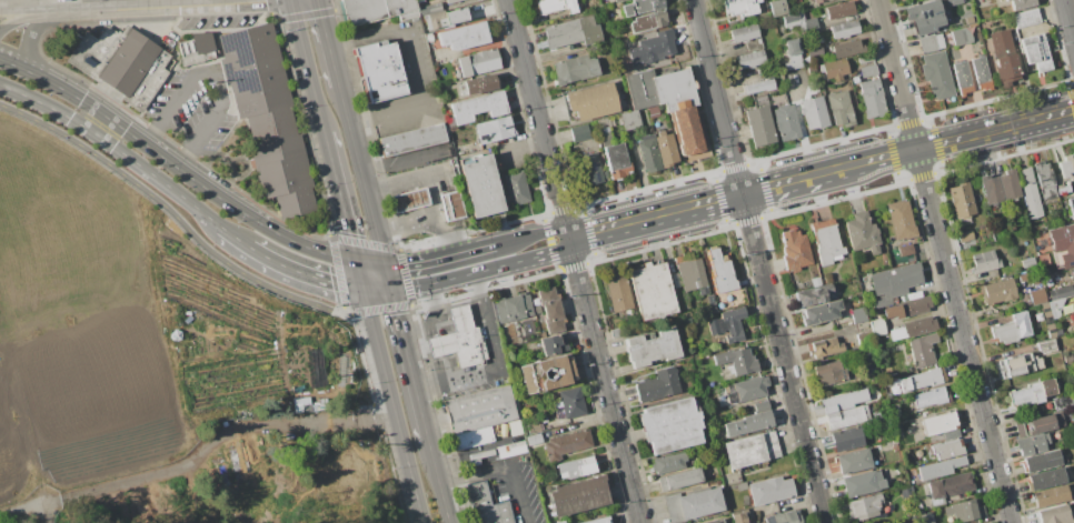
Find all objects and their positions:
building: (772, 0)
building: (1007, 0)
road: (198, 1)
building: (451, 1)
building: (618, 1)
building: (953, 1)
building: (607, 2)
building: (816, 2)
road: (102, 3)
road: (151, 3)
building: (1022, 4)
building: (557, 7)
building: (642, 7)
building: (429, 8)
building: (740, 8)
building: (779, 8)
road: (17, 9)
road: (44, 9)
building: (378, 10)
building: (839, 10)
building: (921, 10)
road: (1070, 13)
building: (456, 16)
building: (1026, 18)
road: (16, 20)
building: (435, 20)
building: (648, 22)
building: (793, 22)
building: (942, 22)
building: (924, 24)
building: (812, 27)
building: (844, 30)
building: (573, 33)
building: (745, 33)
building: (465, 37)
building: (962, 37)
road: (31, 38)
building: (429, 38)
road: (329, 39)
building: (815, 41)
building: (1001, 43)
building: (931, 44)
building: (658, 47)
building: (793, 47)
rooftop solar panel: (238, 48)
building: (199, 49)
building: (847, 49)
building: (815, 50)
building: (1036, 52)
building: (865, 58)
rooftop solar panel: (252, 59)
building: (752, 59)
building: (478, 62)
building: (794, 62)
rooftop solar panel: (88, 63)
building: (123, 64)
road: (20, 66)
road: (309, 67)
building: (576, 69)
building: (836, 69)
road: (415, 70)
parking lot: (419, 70)
building: (867, 70)
building: (1007, 70)
building: (380, 71)
building: (981, 73)
road: (217, 74)
building: (937, 76)
building: (782, 77)
building: (788, 77)
building: (962, 78)
rooftop solar panel: (239, 79)
rooftop solar panel: (251, 81)
building: (478, 84)
building: (758, 87)
road: (72, 93)
building: (872, 99)
building: (593, 101)
road: (48, 104)
building: (479, 108)
building: (676, 108)
parking lot: (197, 109)
building: (841, 109)
building: (654, 112)
building: (814, 113)
building: (268, 118)
road: (538, 119)
building: (630, 120)
road: (99, 121)
building: (451, 122)
building: (786, 122)
building: (760, 127)
road: (127, 128)
building: (495, 130)
road: (996, 130)
building: (605, 131)
building: (662, 132)
building: (580, 133)
building: (412, 140)
road: (523, 149)
building: (461, 150)
building: (666, 151)
building: (648, 153)
road: (894, 157)
building: (617, 162)
building: (590, 169)
rooftop solar panel: (594, 169)
building: (1066, 169)
road: (844, 170)
road: (362, 173)
rooftop solar panel: (595, 177)
road: (156, 178)
building: (1043, 180)
building: (1057, 181)
road: (430, 185)
building: (481, 185)
road: (782, 185)
building: (1008, 185)
building: (516, 188)
building: (991, 190)
building: (1063, 190)
building: (1028, 193)
road: (340, 197)
building: (410, 200)
building: (962, 202)
building: (1071, 203)
road: (700, 205)
building: (453, 207)
road: (247, 211)
building: (902, 220)
road: (182, 222)
road: (407, 224)
road: (613, 228)
building: (862, 233)
road: (233, 237)
building: (965, 237)
building: (826, 241)
building: (1064, 244)
road: (478, 250)
building: (906, 250)
building: (795, 251)
traffic signals: (357, 260)
road: (760, 261)
road: (946, 261)
building: (984, 261)
road: (370, 262)
building: (1028, 263)
traffic signals: (385, 264)
building: (720, 271)
road: (484, 272)
road: (305, 273)
road: (360, 274)
building: (690, 274)
building: (1072, 275)
building: (1025, 276)
road: (388, 278)
building: (896, 280)
building: (675, 281)
building: (1047, 281)
traffic signals: (364, 290)
road: (378, 290)
traffic signals: (392, 291)
building: (616, 292)
building: (652, 292)
building: (997, 292)
building: (1060, 293)
building: (813, 294)
building: (1037, 296)
building: (1073, 298)
building: (1025, 300)
building: (1073, 301)
building: (684, 304)
building: (550, 306)
building: (719, 306)
building: (915, 306)
building: (514, 308)
building: (1056, 308)
road: (396, 309)
building: (708, 309)
building: (821, 313)
building: (858, 315)
building: (686, 316)
road: (371, 319)
building: (727, 324)
building: (919, 326)
building: (877, 328)
crop: (77, 329)
building: (1011, 329)
building: (1052, 331)
building: (460, 340)
building: (865, 342)
building: (554, 345)
building: (652, 348)
building: (825, 348)
building: (923, 350)
building: (737, 360)
building: (1031, 360)
road: (496, 361)
building: (829, 373)
building: (547, 374)
road: (605, 380)
building: (923, 380)
road: (417, 383)
building: (657, 385)
building: (742, 391)
building: (1031, 394)
building: (932, 398)
building: (842, 402)
building: (1062, 402)
building: (300, 404)
building: (570, 404)
building: (760, 404)
building: (479, 410)
building: (895, 411)
building: (847, 418)
building: (938, 423)
building: (748, 424)
building: (670, 425)
building: (1040, 425)
building: (533, 429)
building: (951, 433)
road: (399, 437)
building: (473, 437)
building: (534, 439)
building: (847, 439)
building: (567, 444)
building: (1032, 444)
building: (895, 447)
building: (750, 450)
building: (946, 450)
road: (197, 454)
building: (854, 461)
building: (1042, 461)
building: (668, 463)
building: (941, 467)
building: (575, 469)
road: (504, 472)
building: (1046, 479)
building: (680, 480)
road: (441, 482)
building: (863, 483)
building: (951, 485)
building: (739, 486)
parking lot: (518, 487)
building: (769, 491)
building: (907, 495)
building: (578, 496)
building: (1051, 496)
building: (745, 501)
building: (694, 504)
building: (487, 506)
building: (864, 507)
building: (965, 510)
building: (1055, 515)
building: (785, 517)
building: (925, 517)
building: (738, 519)
building: (598, 521)
building: (716, 521)
building: (559, 522)

